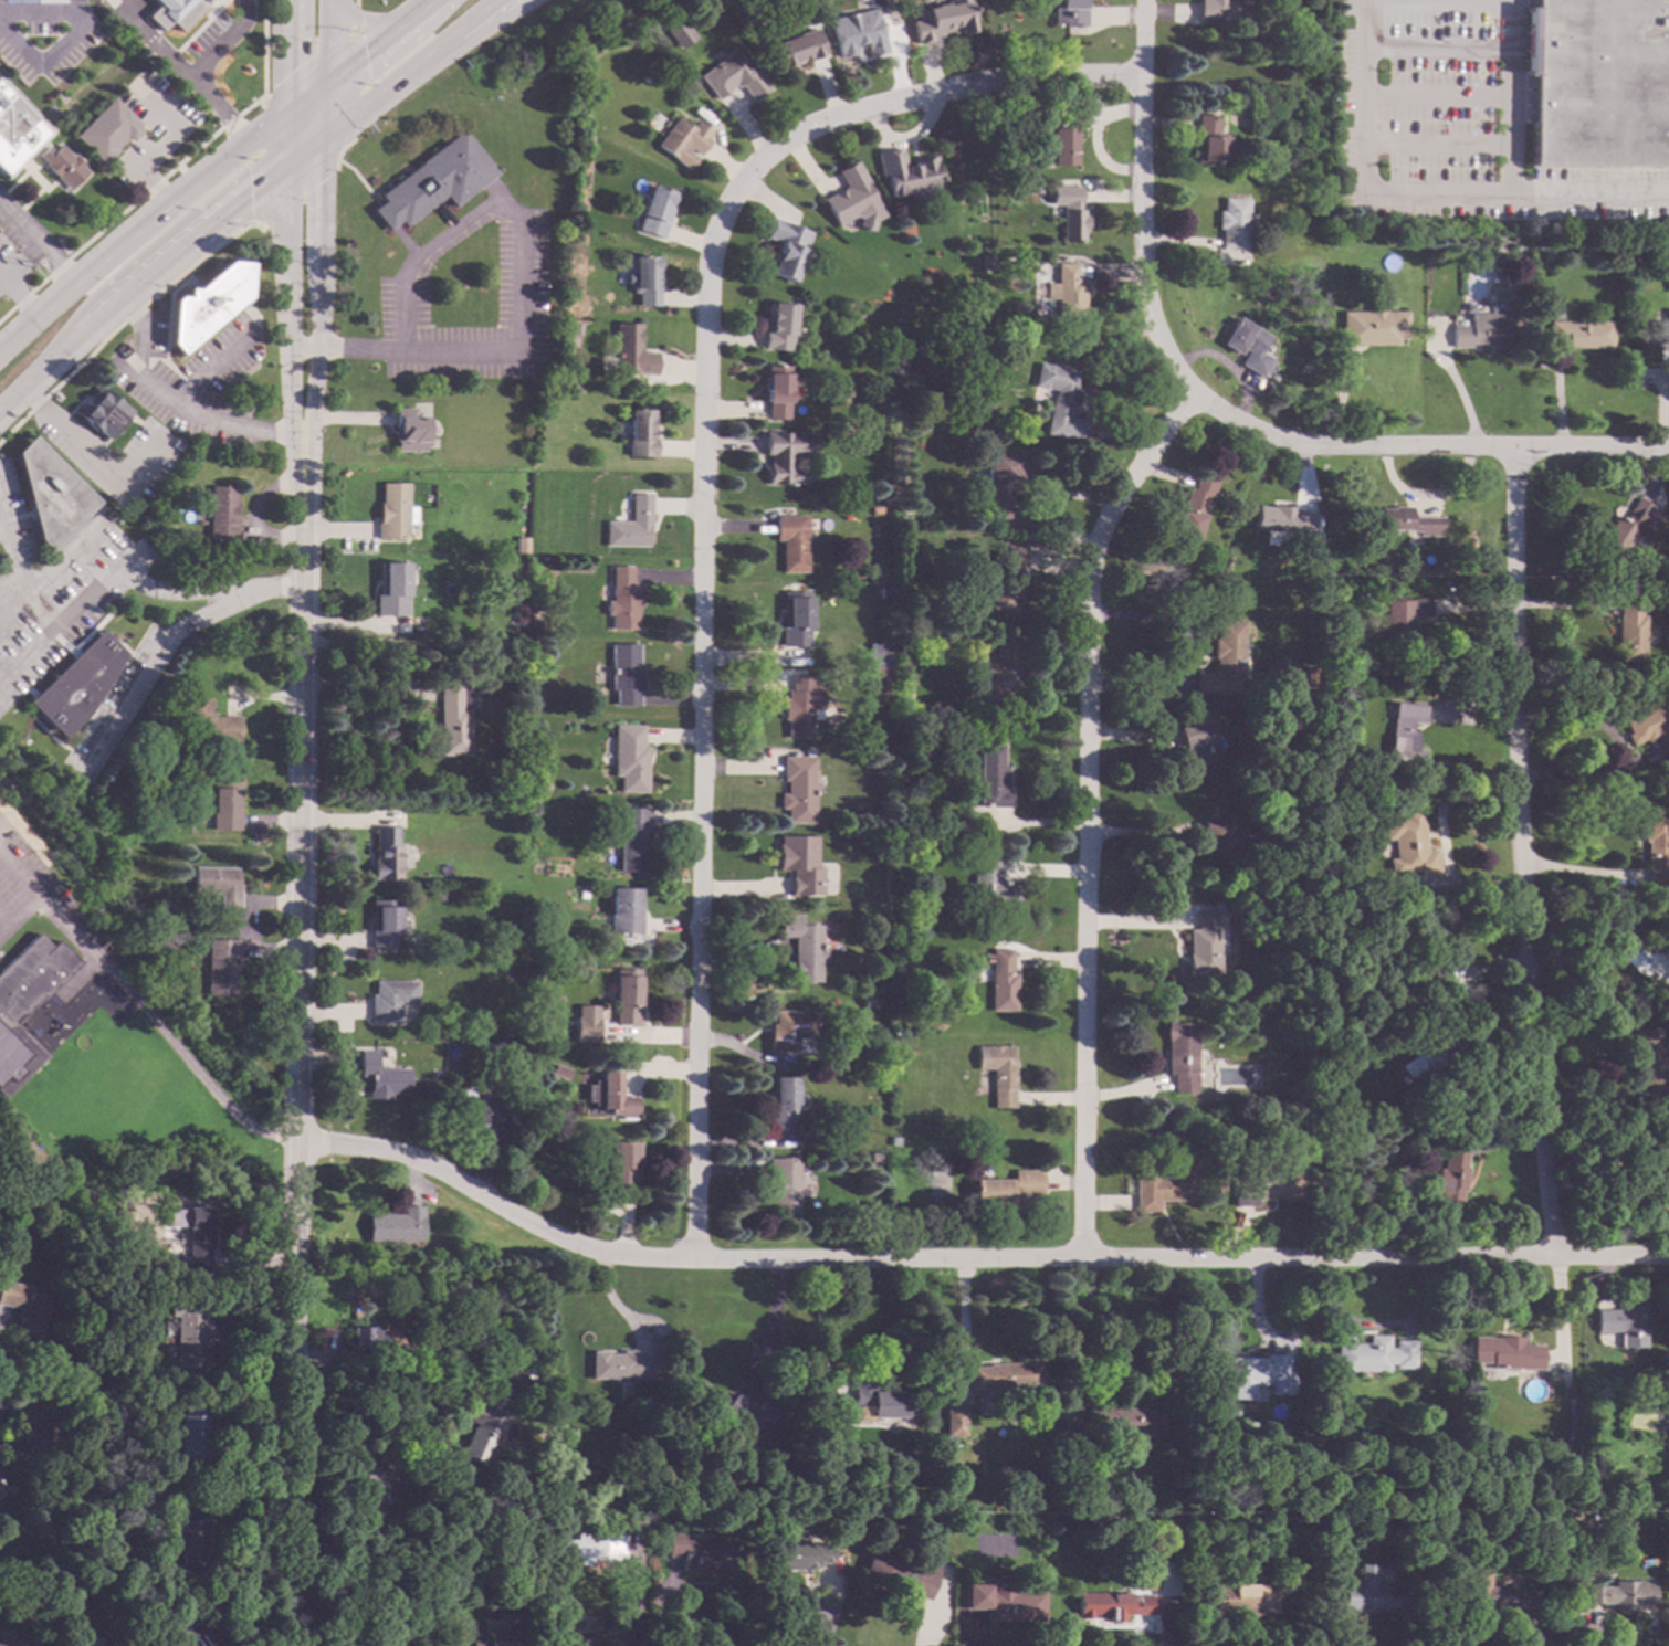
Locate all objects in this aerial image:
road: (72, 6)
building: (1215, 9)
building: (175, 12)
building: (1068, 12)
road: (35, 14)
road: (355, 18)
building: (941, 21)
road: (380, 22)
road: (465, 27)
road: (484, 30)
building: (680, 33)
building: (857, 33)
building: (1266, 33)
road: (329, 40)
road: (380, 40)
road: (222, 41)
road: (155, 42)
building: (796, 49)
traffic signals: (365, 53)
road: (1435, 53)
road: (285, 55)
road: (44, 56)
road: (306, 65)
road: (1360, 72)
traffic signals: (286, 75)
building: (645, 76)
building: (733, 77)
building: (1598, 84)
road: (317, 89)
road: (328, 93)
road: (378, 95)
road: (1434, 98)
road: (1510, 101)
road: (295, 105)
road: (218, 109)
road: (326, 122)
road: (286, 127)
road: (264, 129)
building: (107, 130)
parking lot: (1469, 130)
building: (15, 131)
building: (1066, 137)
building: (681, 140)
building: (1208, 140)
road: (317, 144)
road: (1434, 145)
road: (338, 149)
road: (286, 154)
road: (297, 158)
building: (63, 165)
building: (1016, 166)
building: (904, 172)
traffic signals: (325, 178)
building: (432, 181)
road: (294, 193)
building: (940, 193)
traffic signals: (249, 197)
building: (852, 199)
road: (1484, 202)
road: (1142, 203)
building: (1068, 210)
building: (652, 211)
building: (1232, 222)
building: (1513, 239)
road: (36, 245)
road: (118, 246)
building: (785, 247)
building: (1546, 253)
building: (986, 258)
building: (1520, 266)
building: (1495, 278)
building: (641, 279)
road: (139, 285)
road: (516, 288)
building: (1064, 289)
road: (18, 300)
building: (206, 304)
building: (1555, 313)
road: (250, 314)
road: (318, 320)
road: (123, 323)
building: (777, 326)
building: (1372, 326)
building: (1482, 331)
building: (1581, 333)
building: (1661, 334)
road: (286, 335)
building: (1248, 346)
building: (626, 351)
road: (212, 365)
building: (776, 391)
road: (171, 401)
building: (1058, 401)
building: (102, 412)
building: (406, 430)
building: (639, 432)
road: (1426, 449)
road: (90, 452)
building: (785, 454)
building: (1000, 483)
building: (50, 493)
road: (704, 506)
building: (1193, 507)
building: (391, 511)
building: (221, 514)
building: (1283, 519)
building: (1408, 520)
building: (630, 524)
building: (1628, 527)
building: (791, 541)
building: (521, 544)
building: (1214, 573)
road: (138, 578)
building: (1006, 578)
road: (21, 581)
building: (390, 589)
building: (883, 592)
building: (622, 598)
building: (517, 613)
building: (1400, 618)
building: (795, 619)
building: (537, 625)
building: (1628, 630)
building: (905, 648)
building: (878, 654)
road: (1186, 656)
building: (1224, 658)
building: (999, 672)
road: (141, 673)
building: (624, 673)
building: (1326, 676)
building: (1310, 677)
building: (878, 680)
building: (75, 684)
road: (361, 697)
building: (801, 704)
building: (453, 717)
building: (208, 721)
road: (1584, 727)
building: (1648, 727)
building: (1403, 731)
building: (1198, 742)
building: (628, 757)
building: (1356, 766)
building: (1268, 769)
building: (989, 778)
road: (1584, 780)
building: (798, 788)
building: (883, 788)
building: (896, 794)
building: (224, 804)
building: (533, 808)
building: (1273, 808)
road: (1088, 812)
road: (297, 824)
building: (1220, 835)
building: (631, 837)
building: (878, 840)
building: (900, 844)
building: (1408, 844)
building: (1655, 846)
building: (385, 853)
road: (1521, 853)
building: (800, 863)
building: (474, 871)
road: (19, 882)
building: (217, 883)
building: (991, 883)
building: (580, 894)
building: (1261, 909)
building: (623, 910)
road: (50, 917)
building: (384, 922)
building: (554, 946)
building: (804, 946)
building: (1201, 946)
building: (1432, 950)
building: (1649, 958)
building: (220, 966)
building: (1001, 980)
building: (881, 981)
building: (626, 995)
building: (390, 998)
building: (861, 1001)
building: (25, 1004)
building: (537, 1021)
building: (585, 1024)
building: (791, 1028)
building: (1305, 1042)
building: (909, 1051)
building: (1426, 1051)
building: (1180, 1055)
building: (1650, 1061)
road: (189, 1067)
building: (559, 1070)
building: (998, 1072)
building: (380, 1076)
building: (610, 1095)
building: (781, 1100)
building: (477, 1109)
building: (514, 1112)
building: (1158, 1122)
building: (1309, 1133)
building: (894, 1141)
building: (874, 1157)
building: (620, 1163)
building: (1450, 1172)
building: (1655, 1172)
building: (1266, 1182)
building: (1164, 1184)
building: (784, 1185)
building: (1007, 1189)
building: (397, 1225)
building: (198, 1237)
building: (468, 1249)
road: (969, 1258)
building: (23, 1306)
road: (640, 1322)
building: (1623, 1323)
road: (1376, 1325)
road: (771, 1328)
road: (820, 1329)
building: (366, 1338)
building: (189, 1346)
building: (399, 1352)
building: (1505, 1352)
building: (1372, 1353)
building: (620, 1364)
building: (136, 1370)
building: (522, 1372)
building: (1250, 1372)
building: (1006, 1375)
road: (365, 1389)
building: (523, 1390)
road: (293, 1395)
building: (877, 1402)
road: (9, 1413)
building: (752, 1413)
building: (817, 1413)
building: (1667, 1413)
building: (805, 1418)
building: (1125, 1420)
building: (953, 1421)
building: (190, 1431)
building: (482, 1437)
building: (28, 1438)
building: (386, 1446)
building: (1668, 1453)
building: (1074, 1459)
building: (75, 1480)
building: (8, 1488)
building: (0, 1489)
building: (1586, 1489)
building: (372, 1490)
building: (0, 1491)
building: (962, 1518)
building: (1172, 1518)
building: (638, 1520)
building: (1599, 1532)
building: (1431, 1540)
building: (190, 1542)
building: (591, 1547)
building: (701, 1553)
building: (798, 1554)
road: (622, 1566)
building: (901, 1571)
building: (1146, 1579)
building: (1497, 1592)
building: (1374, 1593)
building: (1623, 1594)
building: (1237, 1597)
building: (1005, 1601)
building: (1114, 1605)
road: (685, 1616)
road: (823, 1623)
road: (922, 1632)
road: (1167, 1632)
building: (389, 1635)
road: (1404, 1636)
road: (1529, 1636)
building: (192, 1637)
building: (496, 1638)
road: (973, 1638)
road: (1216, 1638)
building: (87, 1642)
building: (2, 1645)

